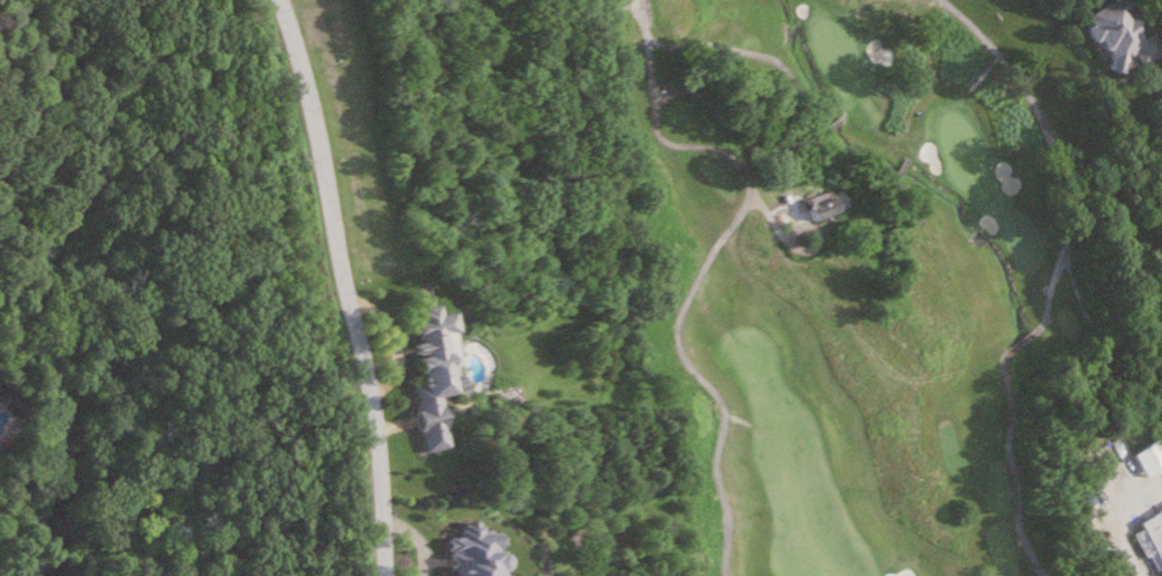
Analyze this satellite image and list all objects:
building: (1127, 35)
road: (814, 121)
road: (711, 148)
building: (812, 209)
park: (860, 280)
road: (349, 283)
road: (1050, 283)
building: (435, 372)
road: (718, 431)
building: (1151, 459)
road: (1123, 526)
building: (1154, 532)
building: (476, 552)

